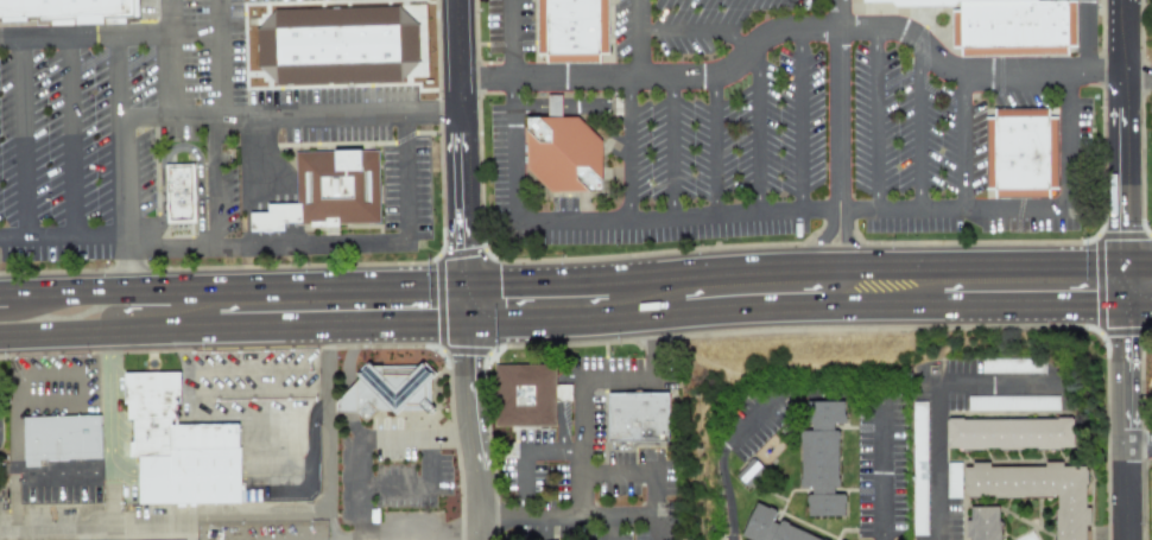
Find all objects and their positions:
building: (930, 2)
building: (61, 7)
building: (1013, 24)
building: (572, 27)
road: (796, 27)
road: (696, 30)
road: (107, 34)
road: (1089, 37)
road: (511, 40)
road: (638, 40)
building: (336, 45)
road: (171, 57)
road: (215, 57)
road: (1140, 76)
road: (840, 85)
road: (569, 101)
building: (552, 106)
road: (290, 112)
road: (799, 119)
road: (875, 119)
road: (757, 128)
road: (920, 131)
road: (463, 134)
road: (70, 135)
road: (23, 136)
road: (963, 141)
road: (1066, 141)
road: (169, 146)
road: (713, 146)
road: (671, 148)
road: (628, 150)
road: (259, 153)
road: (513, 153)
building: (1020, 153)
road: (119, 154)
building: (564, 155)
road: (404, 173)
road: (216, 179)
building: (336, 184)
building: (178, 193)
road: (955, 210)
road: (844, 211)
road: (828, 212)
road: (672, 217)
traffic signals: (1129, 223)
road: (59, 236)
road: (264, 242)
traffic signals: (468, 246)
road: (1140, 248)
road: (867, 250)
road: (537, 267)
traffic signals: (499, 268)
road: (316, 269)
road: (1129, 269)
road: (134, 274)
road: (51, 277)
road: (749, 290)
road: (160, 304)
road: (468, 304)
road: (1034, 323)
traffic signals: (1085, 323)
road: (1140, 324)
road: (703, 328)
traffic signals: (431, 339)
road: (342, 342)
road: (108, 348)
traffic signals: (1129, 348)
road: (656, 356)
road: (349, 362)
road: (13, 363)
traffic signals: (468, 364)
road: (249, 367)
road: (834, 367)
road: (936, 381)
building: (385, 390)
building: (561, 393)
road: (349, 396)
building: (527, 396)
road: (817, 396)
road: (46, 405)
road: (701, 411)
road: (253, 417)
building: (638, 417)
building: (1014, 432)
building: (59, 436)
road: (414, 438)
road: (474, 439)
road: (1140, 446)
building: (830, 458)
road: (584, 460)
building: (208, 464)
road: (355, 470)
building: (748, 476)
building: (156, 478)
road: (45, 481)
road: (414, 485)
building: (1040, 491)
road: (583, 495)
road: (110, 503)
road: (217, 512)
road: (520, 519)
road: (501, 522)
building: (990, 523)
building: (780, 527)
road: (410, 529)
road: (605, 529)

